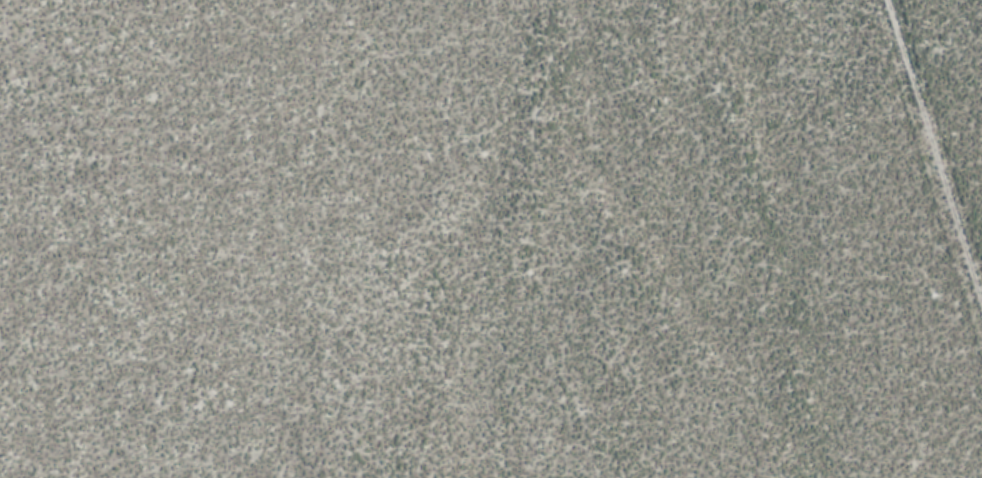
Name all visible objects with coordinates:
road: (935, 150)

